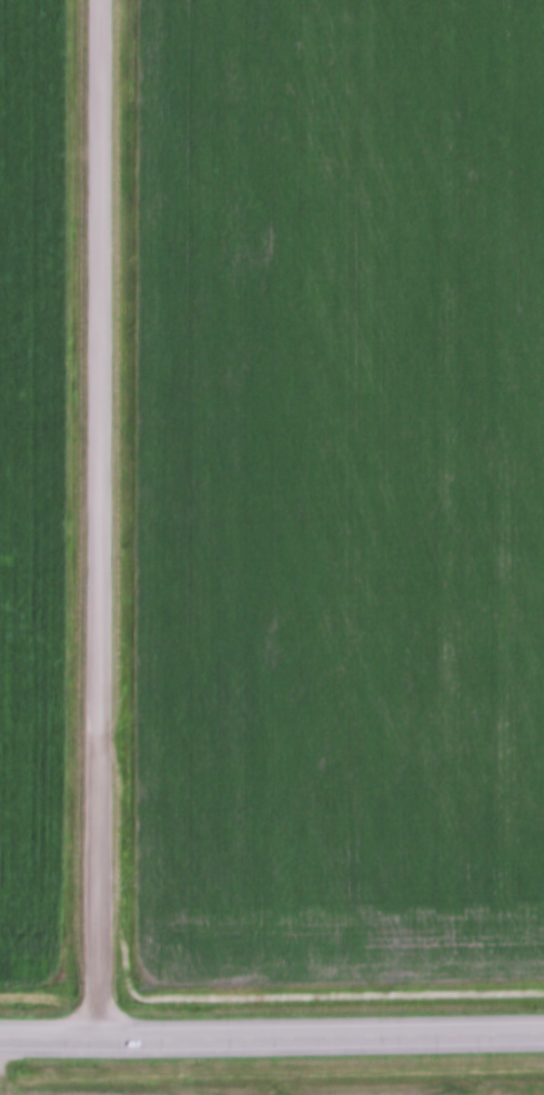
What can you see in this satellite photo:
crop: (32, 483)
crop: (340, 494)
road: (94, 521)
road: (271, 1041)
crop: (333, 1089)

